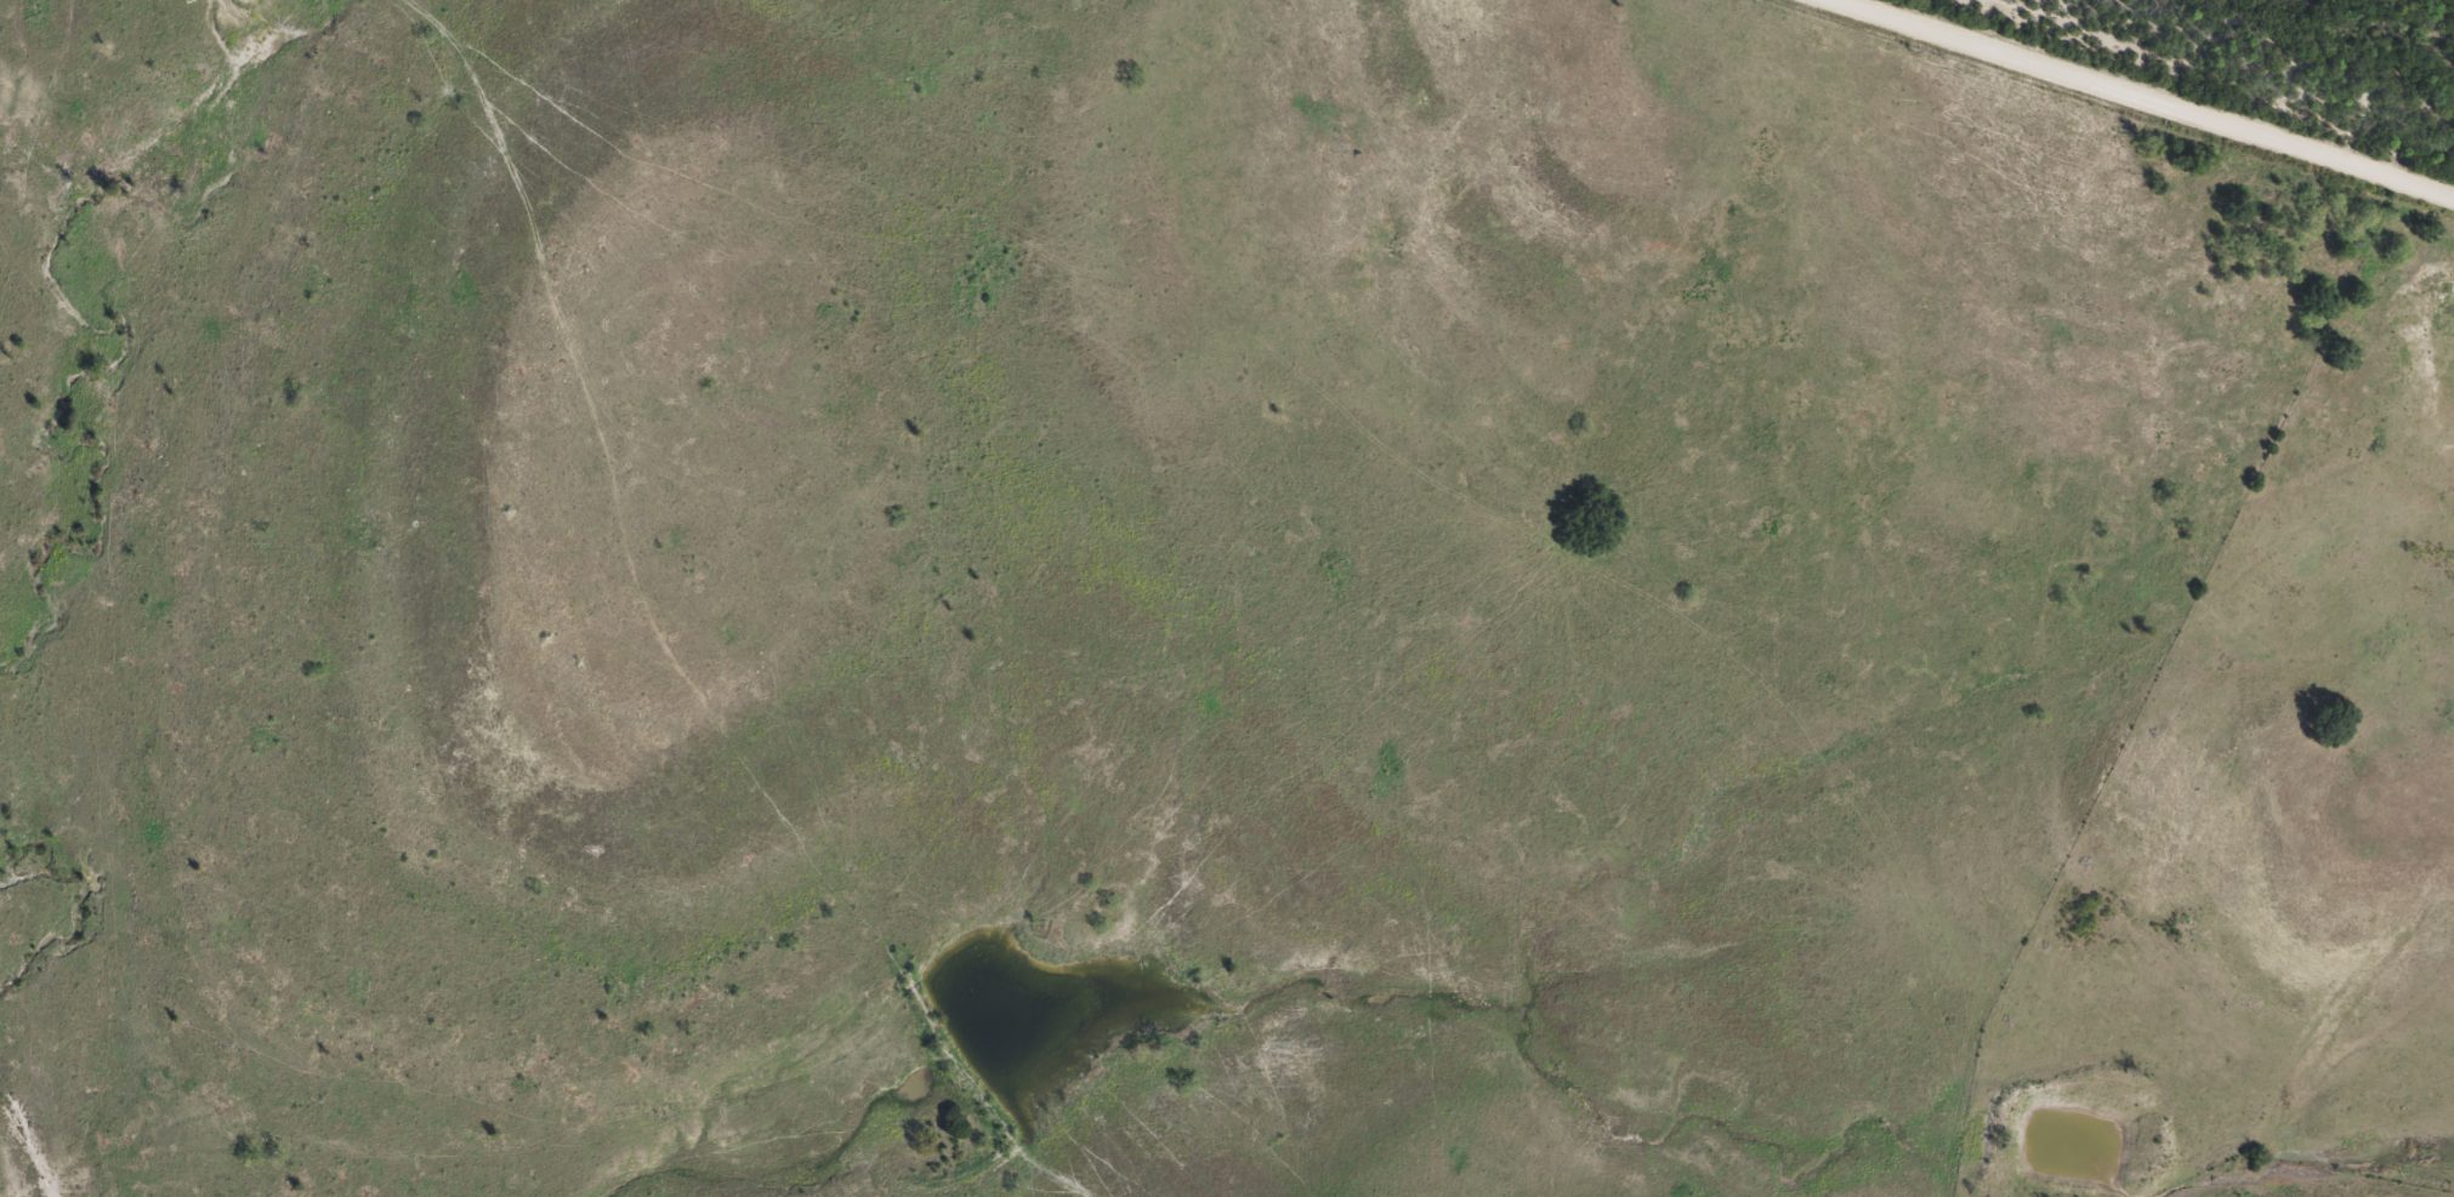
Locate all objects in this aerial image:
road: (2152, 95)

